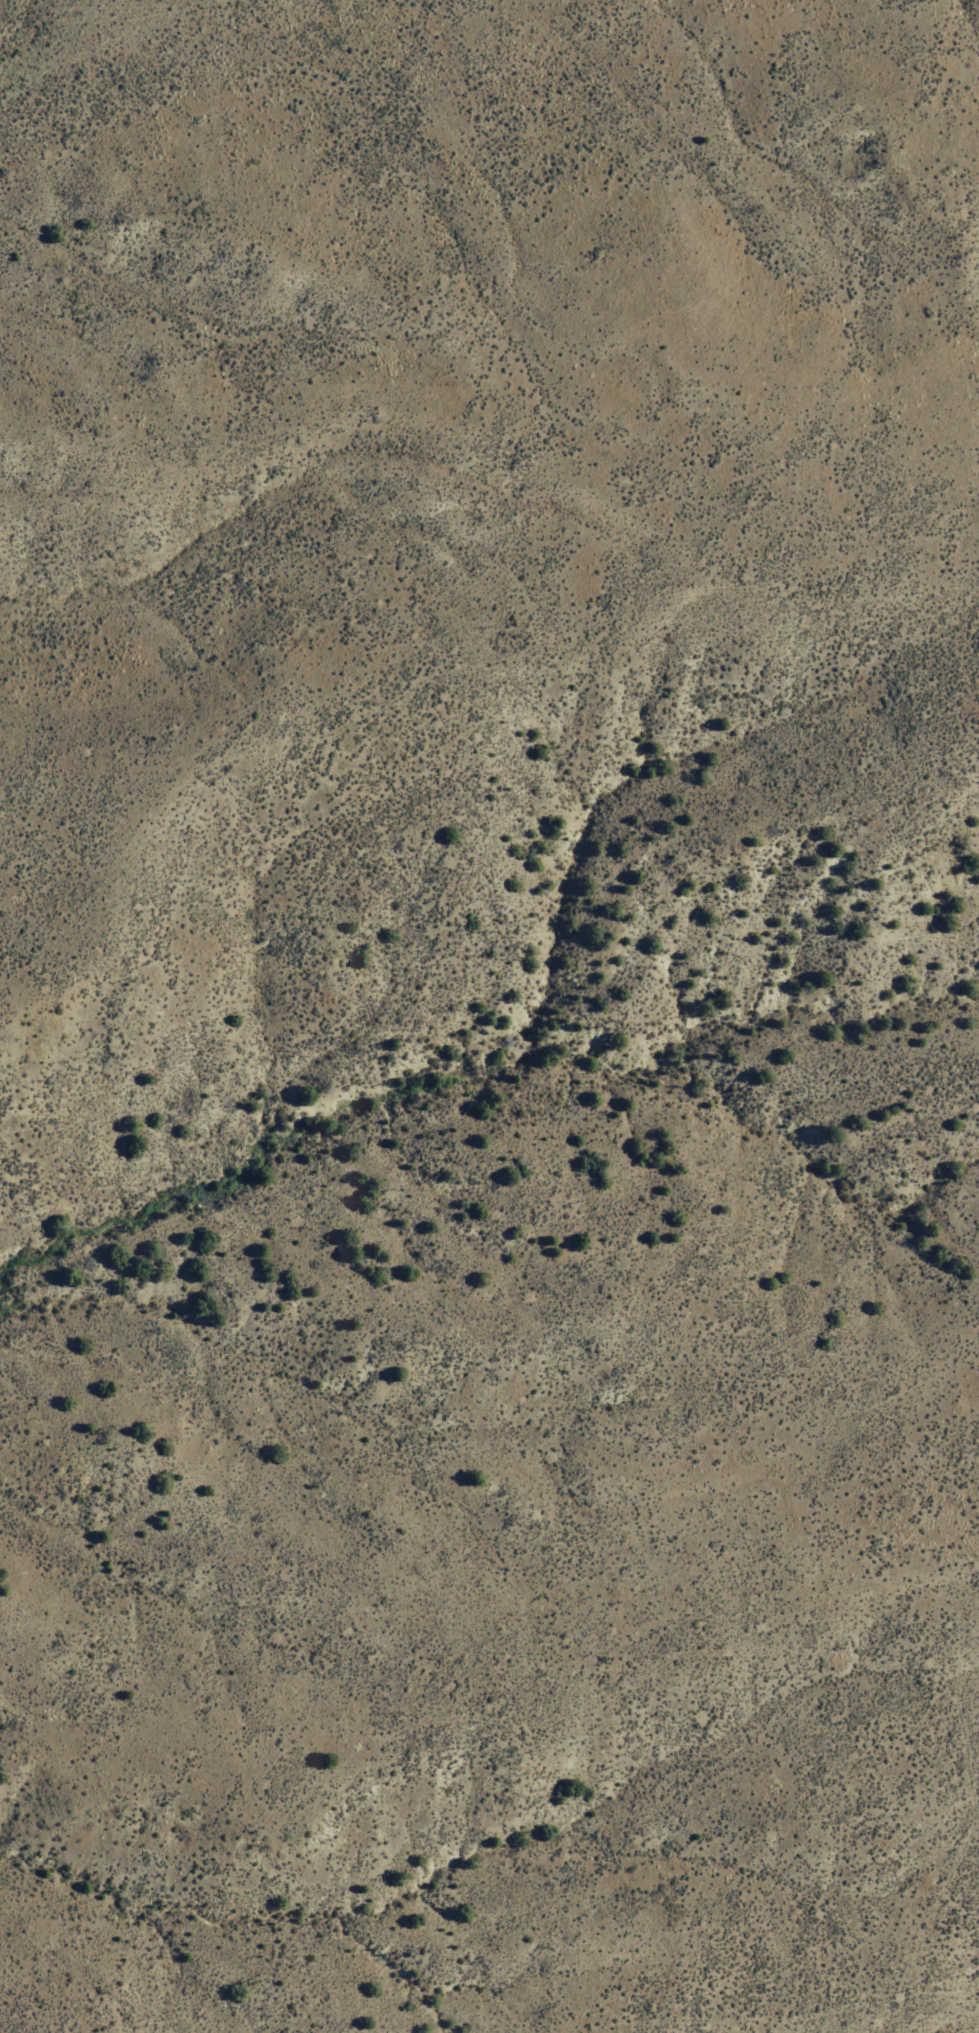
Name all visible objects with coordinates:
crop: (585, 321)

